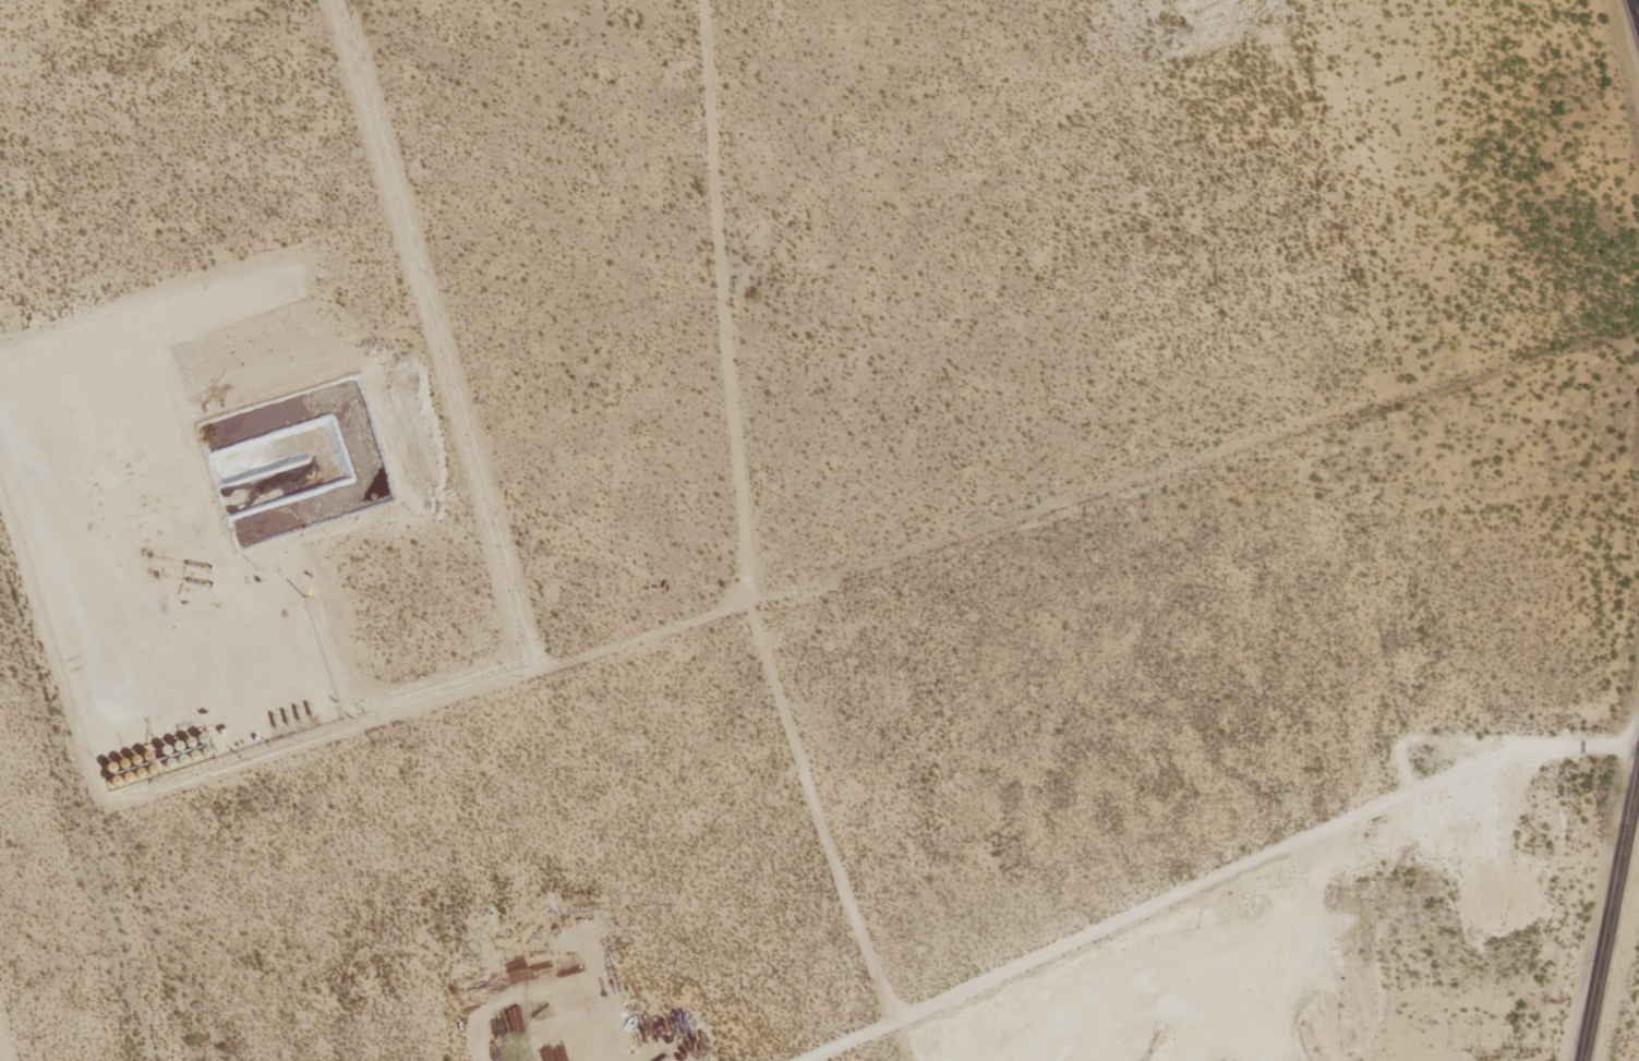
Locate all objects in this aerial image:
road: (1636, 8)
road: (1611, 915)

